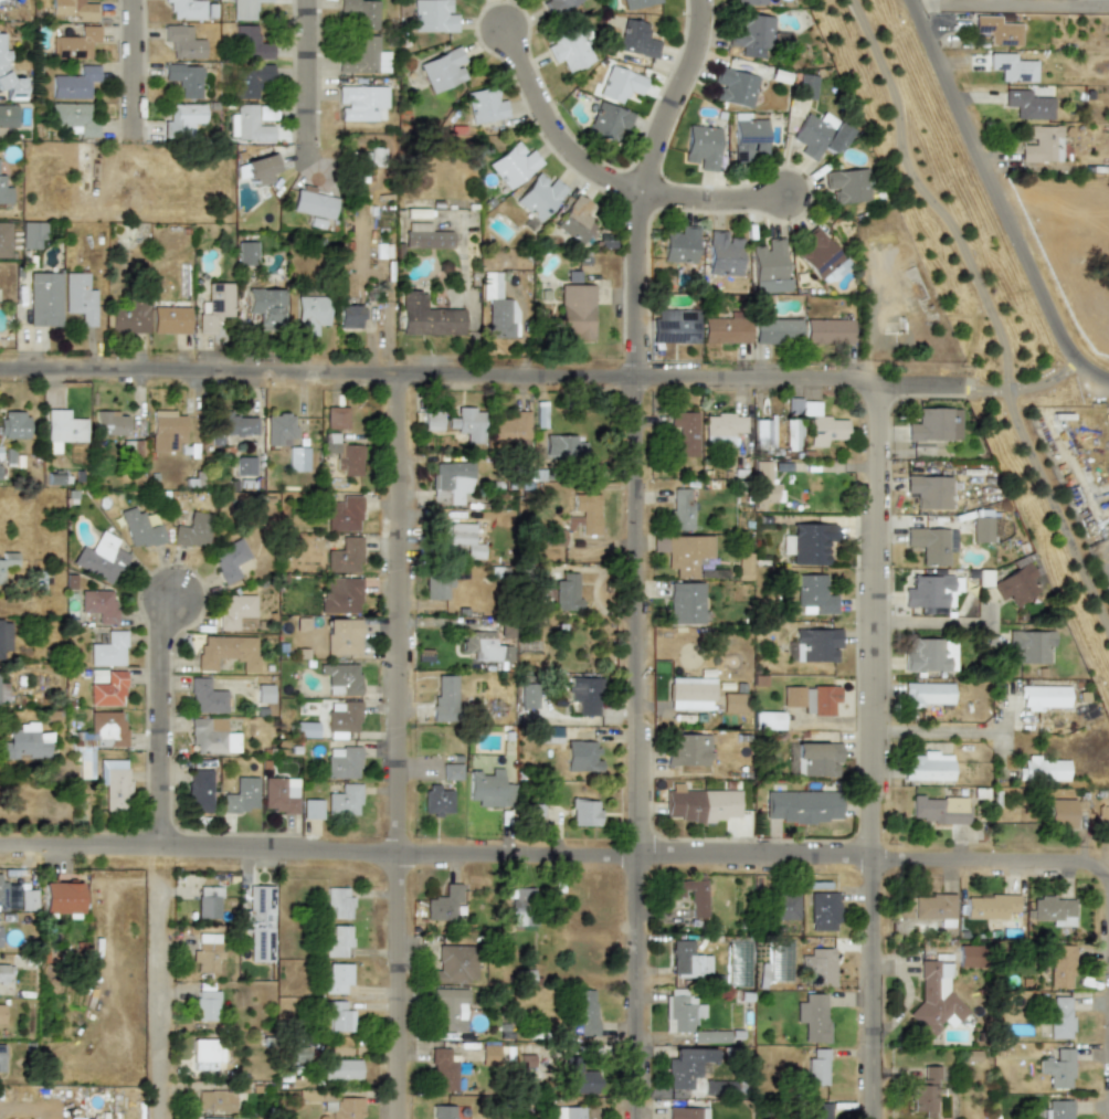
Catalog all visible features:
building: (6, 2)
building: (749, 2)
road: (1010, 2)
building: (636, 3)
building: (557, 4)
building: (71, 9)
building: (186, 9)
building: (243, 9)
building: (358, 12)
building: (432, 17)
building: (996, 31)
building: (752, 35)
building: (636, 39)
building: (253, 41)
building: (182, 42)
building: (73, 44)
building: (569, 47)
building: (363, 56)
building: (1011, 67)
building: (442, 70)
road: (133, 72)
road: (307, 74)
building: (9, 78)
building: (183, 78)
building: (250, 80)
building: (74, 83)
building: (619, 84)
building: (805, 86)
building: (735, 87)
building: (361, 103)
building: (485, 105)
building: (1027, 105)
building: (8, 116)
building: (71, 118)
building: (181, 119)
building: (608, 120)
building: (251, 123)
road: (550, 131)
building: (818, 135)
building: (748, 139)
building: (701, 146)
building: (1045, 146)
building: (513, 165)
building: (260, 169)
road: (992, 180)
building: (847, 184)
building: (3, 192)
building: (539, 197)
road: (712, 201)
building: (313, 204)
building: (575, 219)
building: (32, 235)
building: (425, 236)
building: (3, 240)
building: (679, 245)
building: (246, 253)
building: (722, 254)
building: (821, 257)
building: (769, 267)
building: (80, 297)
building: (44, 298)
building: (265, 304)
building: (214, 306)
building: (497, 308)
building: (577, 313)
building: (310, 314)
road: (987, 314)
building: (129, 316)
building: (349, 316)
building: (427, 316)
building: (169, 319)
building: (674, 326)
building: (726, 328)
building: (827, 330)
building: (777, 331)
road: (1091, 370)
road: (486, 376)
road: (1025, 384)
building: (539, 414)
building: (335, 418)
building: (432, 422)
building: (109, 423)
building: (817, 423)
building: (12, 424)
building: (467, 424)
building: (934, 424)
building: (63, 426)
building: (511, 427)
building: (722, 427)
building: (278, 429)
building: (166, 430)
building: (763, 433)
building: (683, 434)
building: (791, 435)
building: (562, 448)
building: (0, 453)
building: (347, 458)
building: (297, 460)
building: (244, 465)
building: (451, 482)
building: (929, 490)
building: (680, 508)
building: (344, 514)
building: (583, 514)
building: (138, 528)
building: (982, 529)
building: (192, 530)
building: (464, 539)
building: (810, 542)
building: (931, 543)
road: (638, 553)
building: (687, 553)
building: (344, 556)
building: (101, 558)
building: (228, 560)
building: (7, 561)
building: (743, 568)
building: (1017, 584)
building: (436, 585)
building: (566, 592)
building: (931, 592)
building: (340, 595)
building: (813, 595)
building: (685, 603)
building: (98, 605)
building: (233, 610)
road: (932, 622)
building: (4, 635)
building: (342, 637)
building: (815, 644)
building: (1029, 646)
building: (484, 647)
building: (108, 650)
building: (226, 652)
building: (929, 655)
building: (97, 676)
building: (341, 678)
building: (108, 689)
building: (691, 692)
building: (2, 694)
building: (263, 694)
building: (927, 694)
building: (527, 695)
building: (584, 695)
building: (1043, 696)
building: (205, 697)
building: (444, 698)
building: (812, 698)
building: (733, 703)
building: (342, 718)
building: (767, 720)
road: (162, 724)
building: (306, 729)
road: (961, 732)
building: (551, 735)
building: (212, 737)
building: (98, 738)
building: (25, 742)
road: (397, 747)
building: (688, 750)
road: (877, 752)
building: (580, 756)
building: (815, 758)
building: (342, 762)
building: (928, 767)
building: (1043, 769)
building: (451, 771)
building: (113, 783)
building: (489, 789)
building: (200, 791)
building: (279, 794)
building: (241, 795)
building: (344, 800)
building: (436, 800)
building: (700, 804)
building: (801, 806)
building: (311, 809)
building: (939, 810)
building: (538, 812)
building: (583, 812)
building: (1059, 814)
road: (554, 852)
building: (693, 895)
building: (3, 896)
building: (61, 897)
building: (28, 899)
building: (208, 901)
building: (338, 901)
building: (443, 904)
building: (522, 906)
building: (788, 907)
building: (932, 907)
building: (989, 907)
building: (824, 910)
building: (1053, 910)
building: (258, 922)
building: (337, 941)
building: (207, 952)
building: (687, 960)
building: (455, 963)
building: (1059, 965)
building: (822, 968)
building: (3, 972)
building: (337, 978)
building: (934, 999)
road: (157, 1003)
building: (205, 1005)
building: (448, 1010)
building: (682, 1010)
building: (585, 1012)
building: (1, 1014)
building: (337, 1016)
building: (813, 1016)
building: (1059, 1017)
building: (710, 1036)
building: (205, 1055)
building: (489, 1055)
building: (1, 1057)
building: (686, 1066)
building: (816, 1067)
building: (1057, 1068)
building: (340, 1069)
building: (442, 1070)
building: (581, 1080)
building: (719, 1087)
building: (923, 1094)
building: (215, 1100)
building: (347, 1108)
building: (818, 1110)
building: (442, 1111)
building: (569, 1112)
building: (686, 1112)
building: (74, 1118)
building: (209, 1118)

